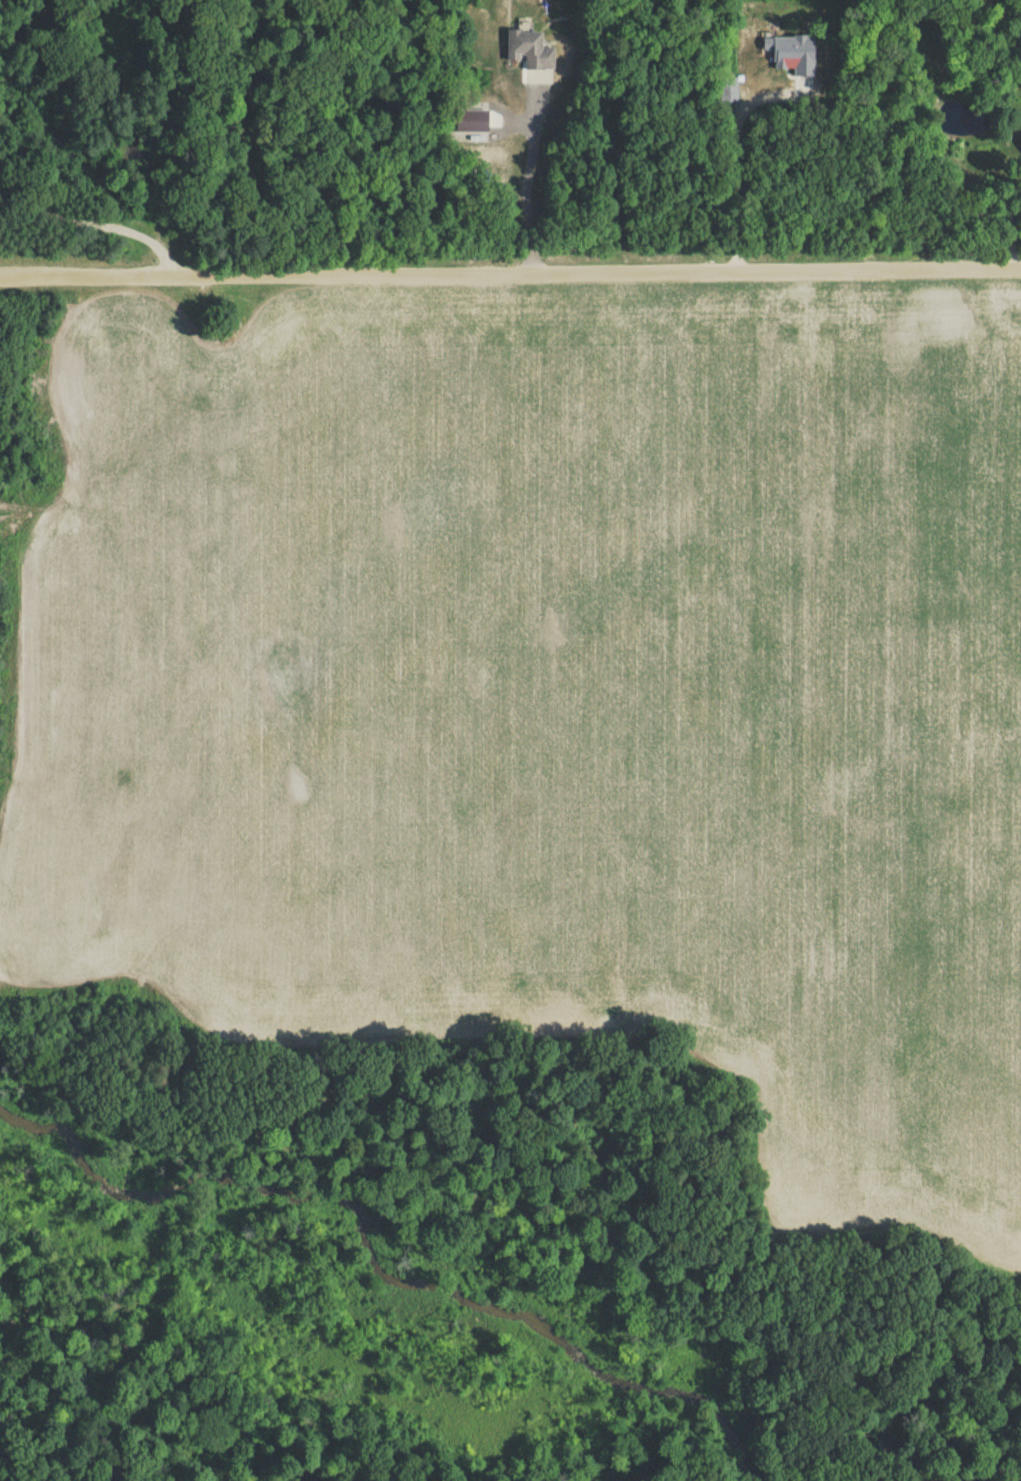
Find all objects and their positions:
building: (526, 53)
road: (734, 181)
road: (526, 182)
road: (85, 208)
road: (510, 277)

